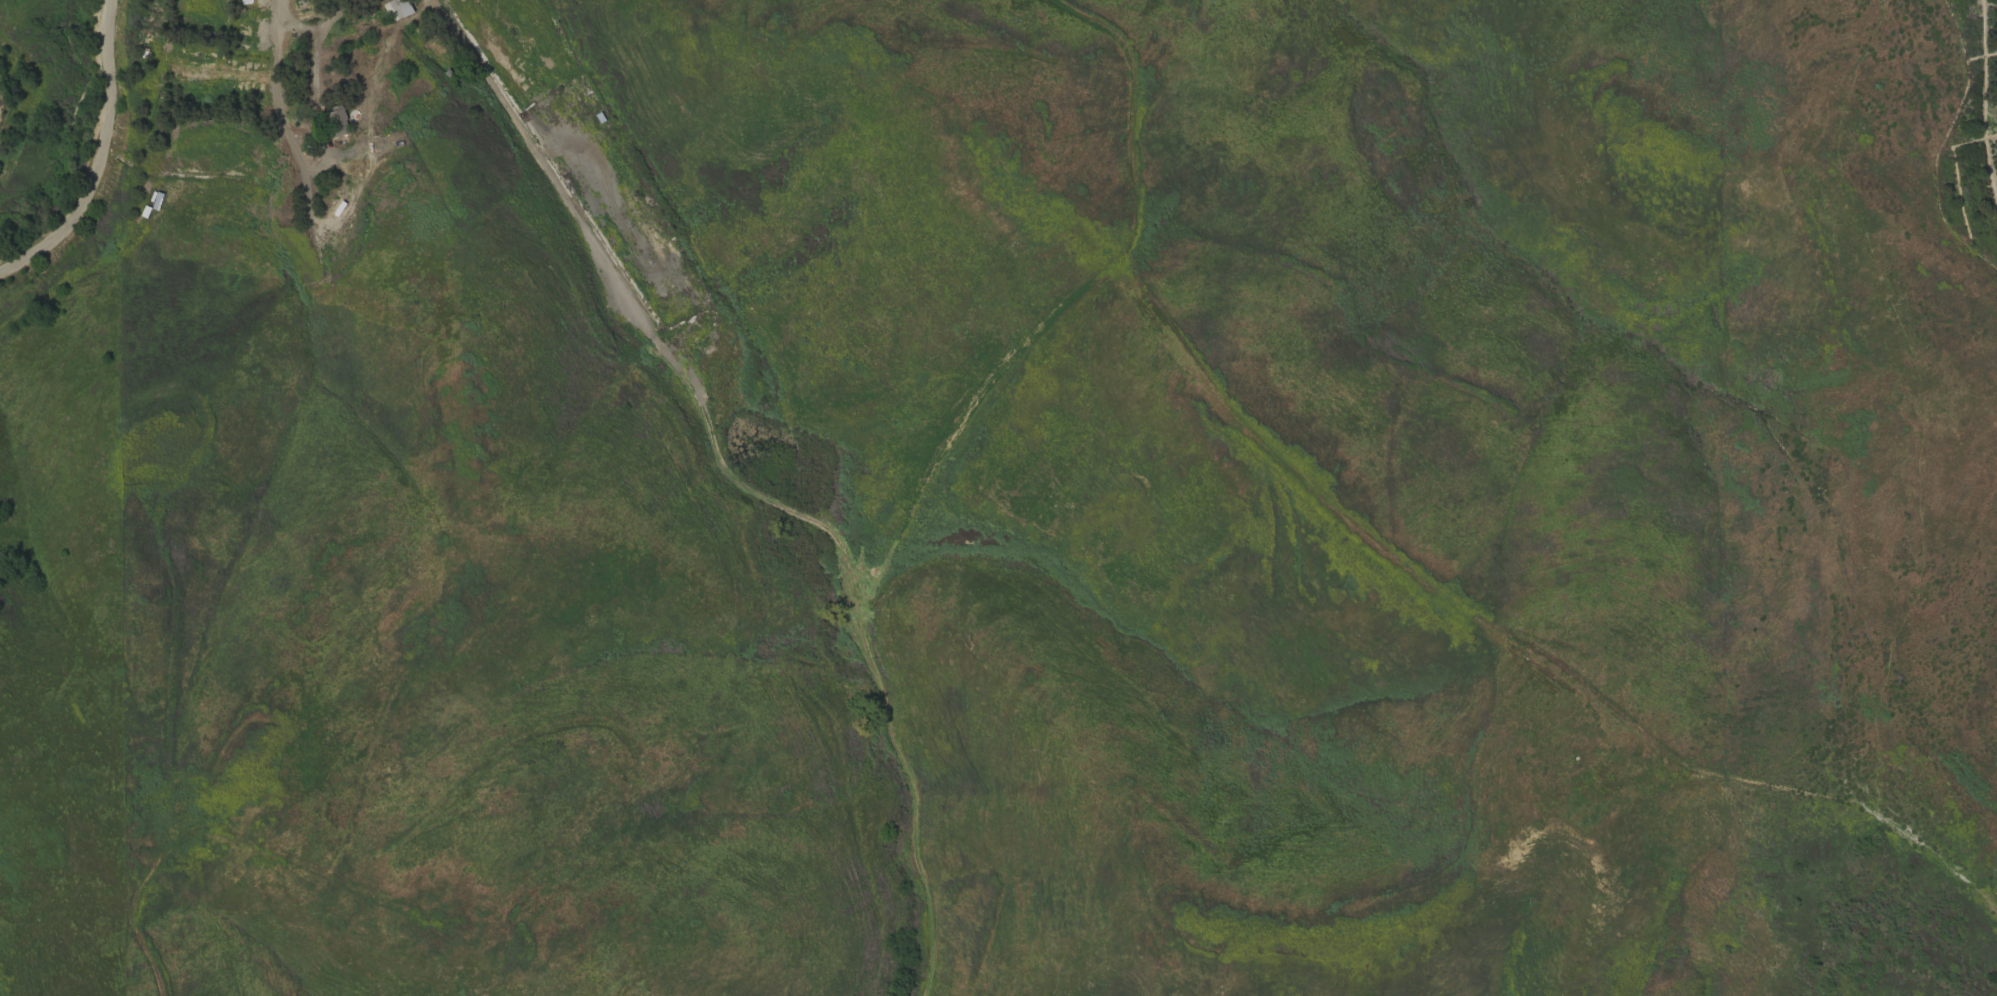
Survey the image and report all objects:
building: (397, 9)
building: (335, 121)
road: (100, 160)
road: (577, 218)
road: (886, 688)

